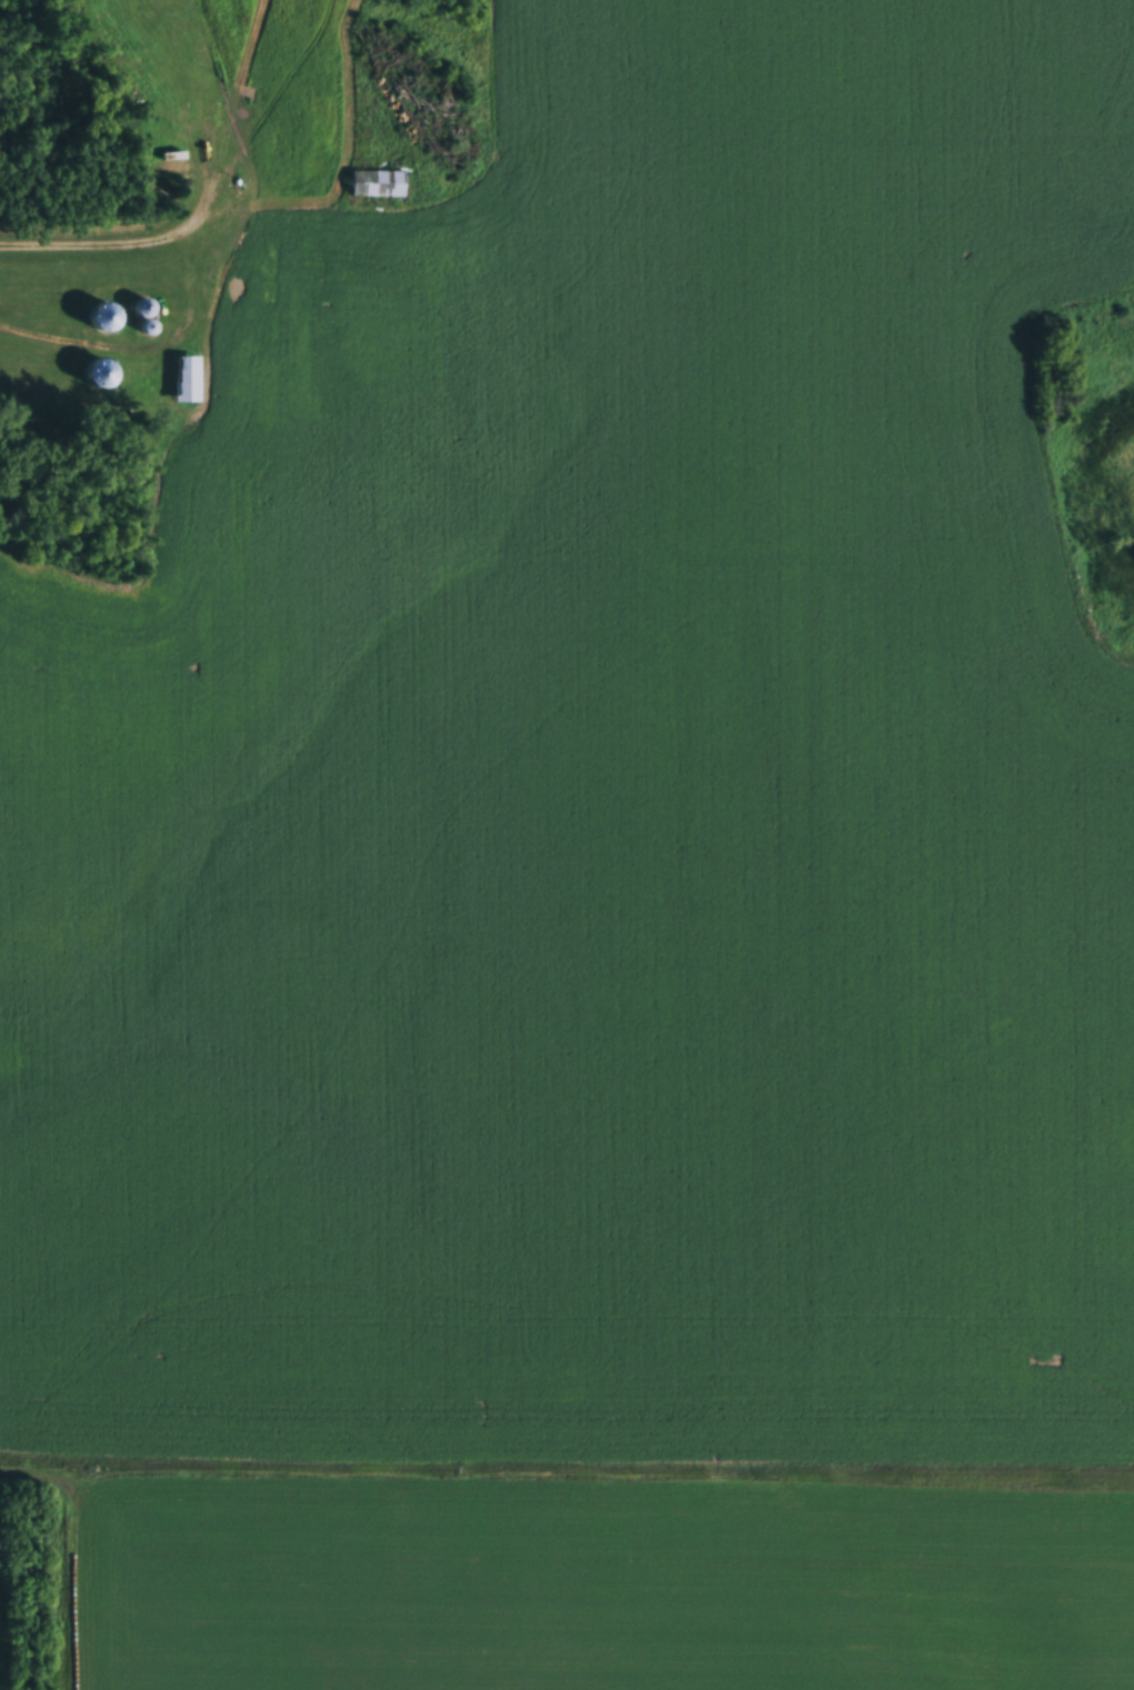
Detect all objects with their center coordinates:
building: (174, 6)
building: (171, 129)
building: (379, 185)
road: (173, 231)
building: (145, 308)
building: (107, 316)
building: (149, 328)
building: (188, 379)

